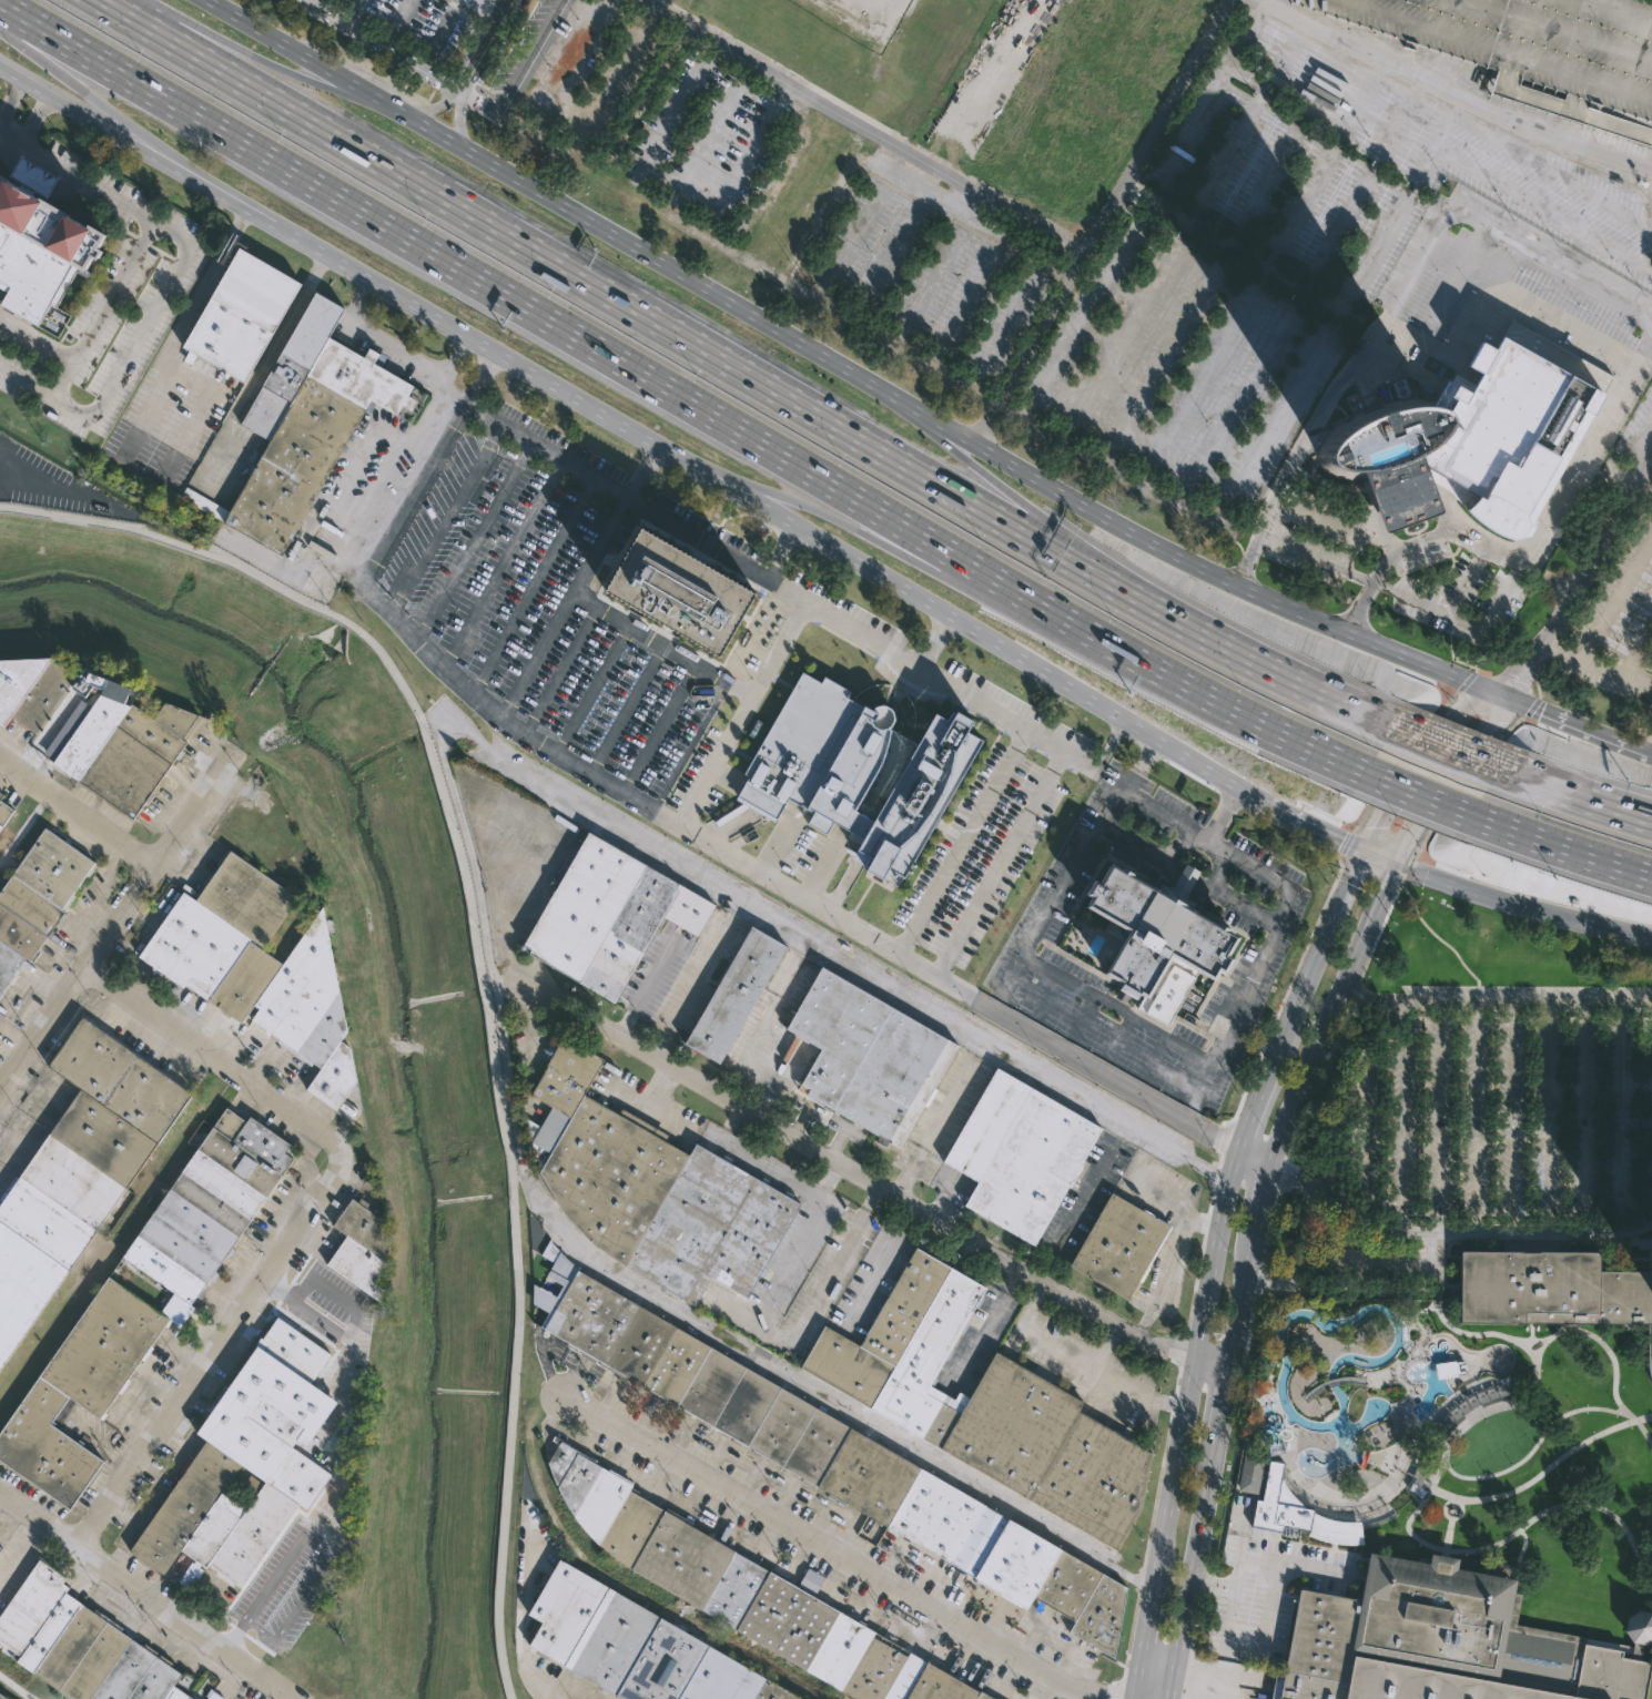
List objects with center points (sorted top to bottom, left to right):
road: (1240, 1)
road: (488, 8)
road: (356, 11)
road: (399, 21)
road: (1213, 24)
parking lot: (398, 29)
road: (386, 42)
road: (485, 47)
building: (1533, 49)
parking garage: (1533, 49)
road: (259, 59)
road: (33, 89)
road: (457, 96)
road: (12, 102)
road: (100, 102)
road: (30, 116)
road: (871, 124)
building: (45, 213)
building: (32, 273)
parking lot: (1072, 275)
road: (168, 281)
road: (1452, 284)
road: (634, 305)
road: (103, 309)
building: (240, 314)
road: (1568, 324)
road: (37, 339)
road: (1468, 339)
road: (396, 349)
road: (170, 353)
road: (450, 354)
building: (293, 364)
road: (1403, 364)
road: (1570, 364)
road: (844, 368)
road: (482, 373)
road: (1630, 374)
road: (672, 390)
road: (148, 411)
road: (531, 434)
building: (1379, 434)
building: (1507, 434)
building: (315, 439)
road: (1649, 441)
road: (1584, 444)
road: (1289, 459)
road: (683, 460)
road: (1643, 484)
road: (30, 487)
building: (1449, 487)
road: (416, 488)
building: (1399, 489)
building: (202, 503)
road: (1030, 509)
road: (448, 512)
road: (1412, 520)
road: (1416, 532)
road: (478, 537)
road: (1314, 557)
road: (908, 559)
road: (508, 561)
road: (1588, 568)
road: (1403, 571)
road: (536, 583)
building: (801, 584)
road: (1468, 586)
building: (680, 592)
road: (1613, 598)
road: (1445, 606)
road: (815, 608)
road: (1470, 625)
parking lot: (1614, 631)
road: (936, 641)
road: (538, 653)
road: (1638, 653)
road: (445, 660)
road: (693, 664)
road: (1268, 664)
road: (1592, 668)
road: (565, 670)
road: (1477, 671)
road: (1483, 672)
road: (710, 673)
road: (1466, 683)
road: (1514, 683)
road: (592, 686)
building: (32, 689)
road: (1538, 689)
traffic signals: (1502, 695)
road: (627, 708)
road: (1531, 709)
road: (1452, 725)
road: (1575, 726)
building: (126, 744)
road: (1112, 745)
road: (1448, 745)
road: (689, 746)
road: (1478, 746)
road: (1651, 752)
road: (1398, 757)
road: (1080, 759)
road: (1135, 761)
building: (857, 771)
road: (1464, 784)
road: (1415, 789)
road: (1581, 796)
building: (4, 811)
road: (77, 811)
road: (1391, 811)
road: (1418, 828)
road: (961, 842)
road: (1559, 843)
road: (705, 845)
road: (1347, 845)
traffic signals: (1369, 852)
road: (1151, 853)
road: (1382, 857)
road: (995, 862)
traffic signals: (1396, 864)
road: (1409, 869)
road: (1648, 871)
road: (1648, 871)
road: (1370, 872)
road: (1227, 896)
building: (38, 899)
road: (1521, 906)
road: (737, 907)
building: (608, 916)
road: (116, 918)
building: (1157, 937)
road: (1446, 944)
road: (487, 946)
road: (829, 949)
road: (1320, 950)
road: (1370, 953)
road: (479, 959)
building: (259, 967)
road: (1010, 977)
road: (508, 985)
road: (646, 987)
road: (692, 987)
road: (1287, 989)
road: (1355, 993)
building: (733, 994)
road: (1046, 997)
road: (976, 1003)
road: (1494, 1004)
road: (1085, 1018)
road: (1136, 1020)
road: (1118, 1038)
road: (750, 1046)
road: (207, 1049)
building: (868, 1056)
road: (1156, 1059)
road: (1088, 1065)
road: (1313, 1086)
road: (1202, 1090)
road: (1254, 1100)
road: (949, 1103)
road: (1367, 1111)
road: (1620, 1115)
road: (1402, 1117)
road: (1439, 1117)
road: (1476, 1118)
road: (1511, 1118)
road: (1547, 1118)
road: (1583, 1118)
road: (733, 1119)
road: (1330, 1127)
road: (1228, 1128)
road: (1206, 1129)
road: (1230, 1144)
road: (1222, 1150)
building: (1018, 1153)
road: (1253, 1157)
building: (78, 1170)
road: (908, 1172)
road: (857, 1174)
road: (1215, 1174)
road: (1279, 1176)
road: (833, 1177)
building: (655, 1189)
road: (1159, 1191)
road: (825, 1194)
road: (871, 1198)
road: (1209, 1200)
building: (213, 1204)
road: (1386, 1205)
road: (1075, 1210)
road: (1493, 1211)
road: (910, 1219)
road: (1202, 1220)
road: (1269, 1220)
road: (1205, 1223)
road: (1600, 1223)
road: (1452, 1231)
building: (358, 1244)
building: (1118, 1245)
road: (1544, 1247)
road: (1247, 1271)
road: (1164, 1276)
road: (1258, 1278)
road: (874, 1280)
road: (1017, 1284)
road: (1194, 1285)
road: (300, 1288)
building: (1551, 1290)
road: (771, 1293)
road: (738, 1316)
road: (321, 1320)
road: (983, 1342)
building: (102, 1347)
road: (1107, 1347)
road: (1179, 1349)
road: (220, 1350)
road: (1077, 1359)
road: (1213, 1359)
road: (1614, 1361)
road: (1536, 1362)
road: (1192, 1366)
building: (1450, 1369)
road: (1178, 1377)
building: (1651, 1384)
road: (823, 1400)
building: (983, 1404)
road: (1172, 1404)
water park: (1350, 1414)
building: (766, 1415)
road: (1644, 1432)
road: (1237, 1434)
building: (44, 1446)
road: (1447, 1451)
building: (250, 1462)
road: (342, 1468)
road: (1543, 1471)
building: (1249, 1473)
road: (1500, 1473)
park: (1545, 1478)
road: (1155, 1492)
road: (1594, 1505)
building: (1298, 1514)
road: (1452, 1518)
road: (1449, 1534)
building: (0, 1545)
building: (0, 1548)
road: (840, 1556)
road: (1650, 1566)
building: (191, 1573)
road: (1137, 1578)
building: (811, 1580)
building: (1054, 1584)
road: (1209, 1586)
building: (743, 1587)
road: (310, 1590)
road: (144, 1598)
building: (29, 1608)
building: (1651, 1614)
road: (1142, 1641)
road: (1128, 1642)
building: (1447, 1642)
building: (639, 1646)
building: (92, 1657)
building: (184, 1681)
building: (175, 1693)
building: (2, 1697)

